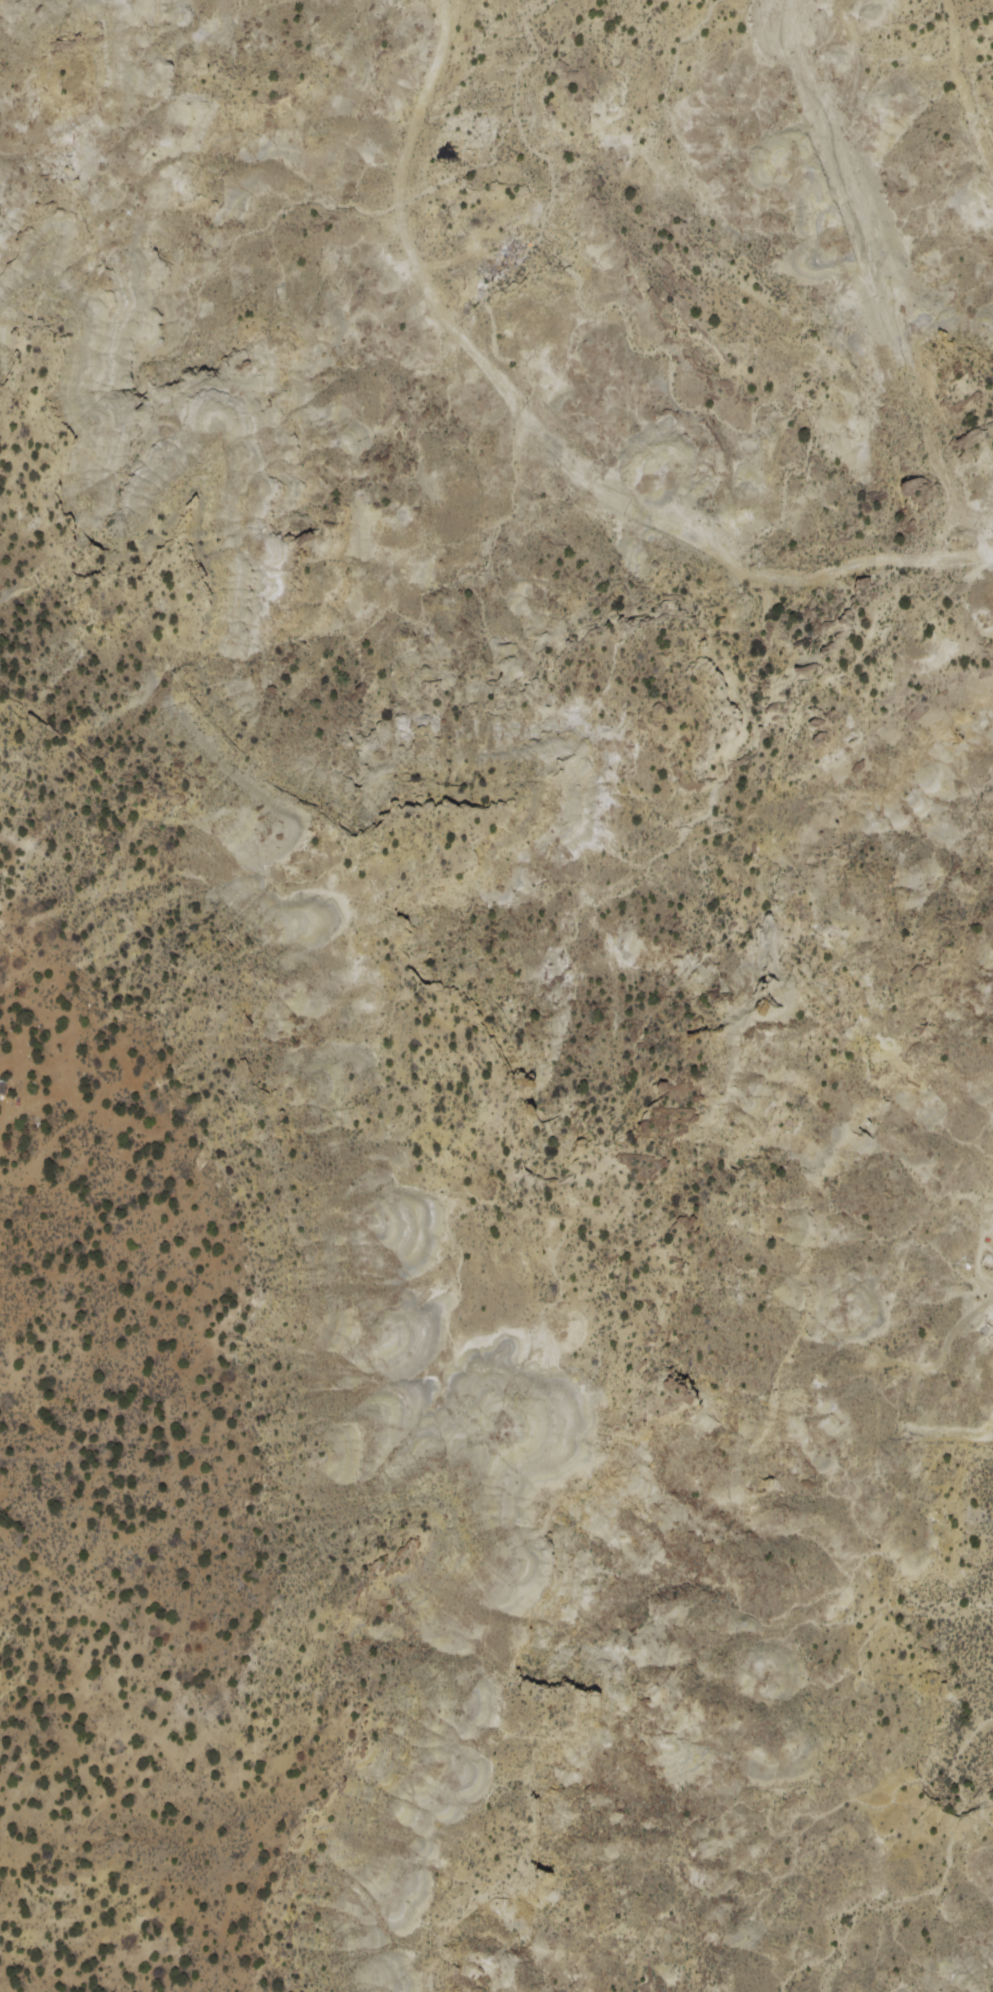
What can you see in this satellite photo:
road: (546, 436)

